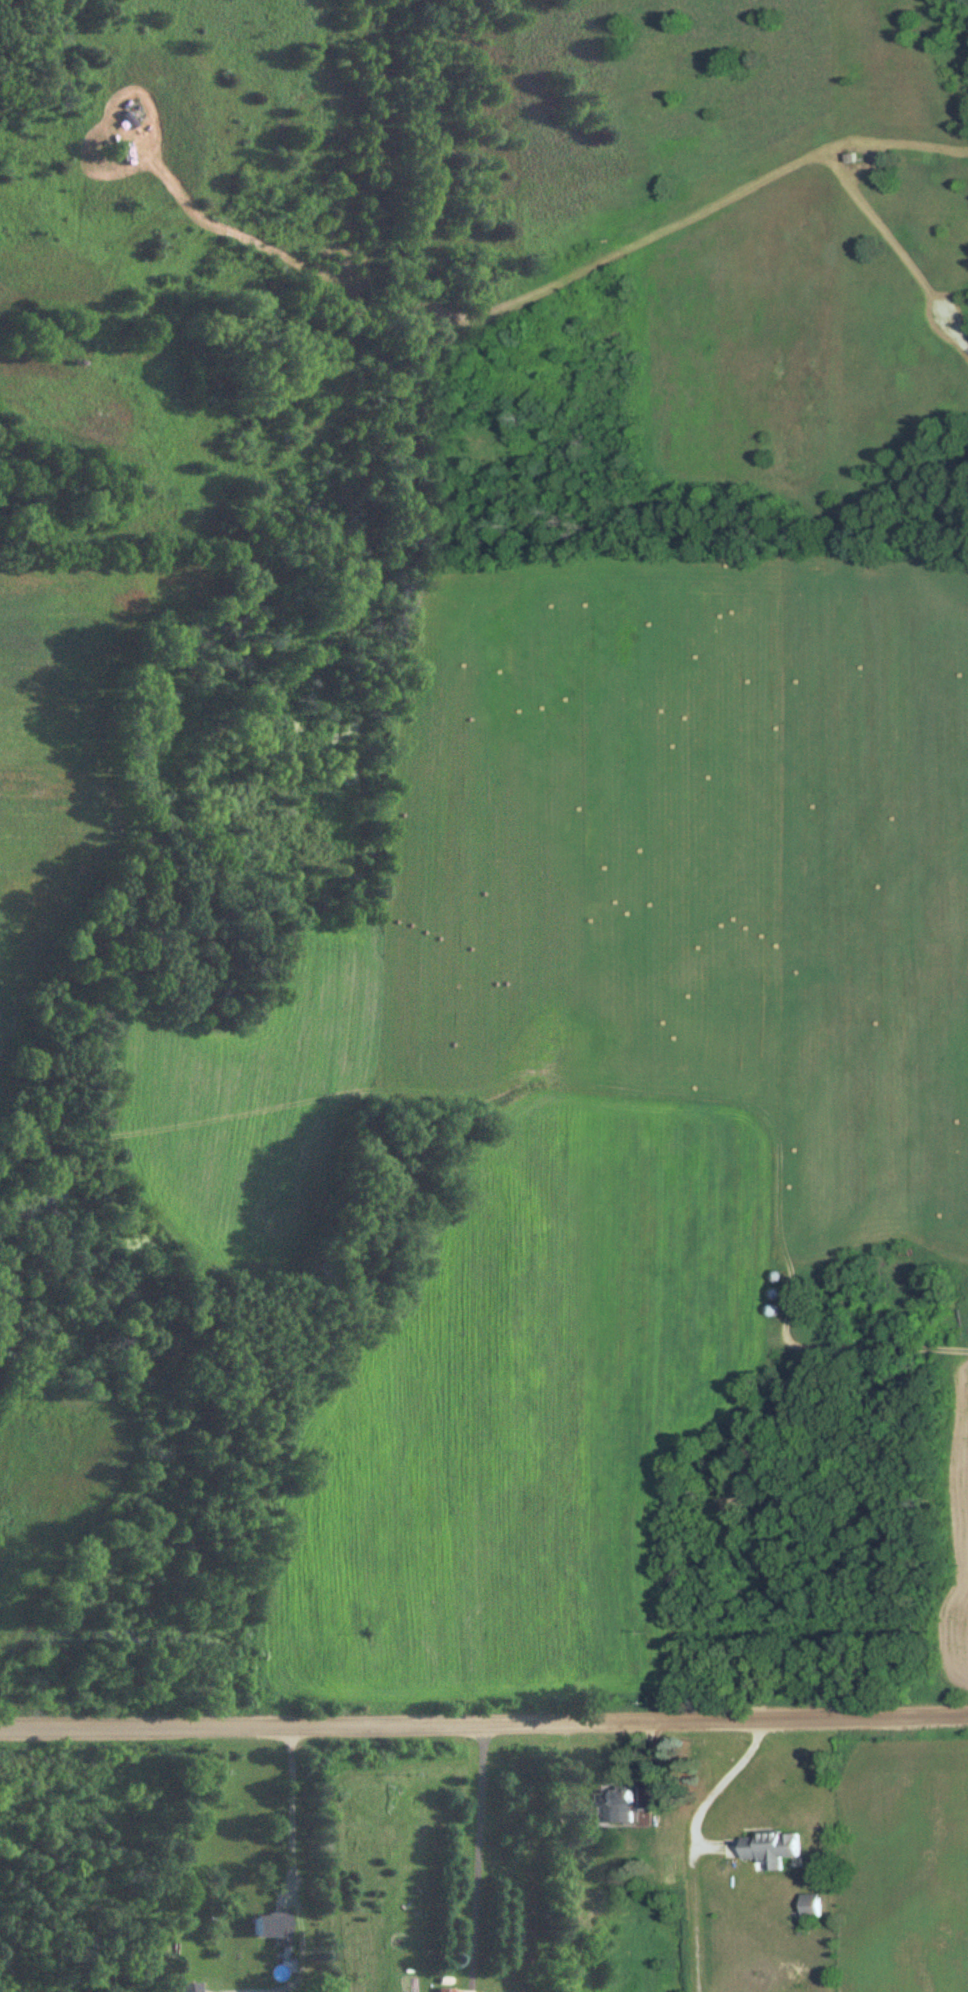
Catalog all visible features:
building: (849, 157)
road: (958, 331)
building: (958, 1321)
road: (484, 1714)
road: (716, 1788)
building: (622, 1805)
road: (288, 1808)
building: (775, 1848)
road: (475, 1853)
building: (809, 1905)
building: (273, 1928)
building: (189, 1988)
building: (445, 1990)

